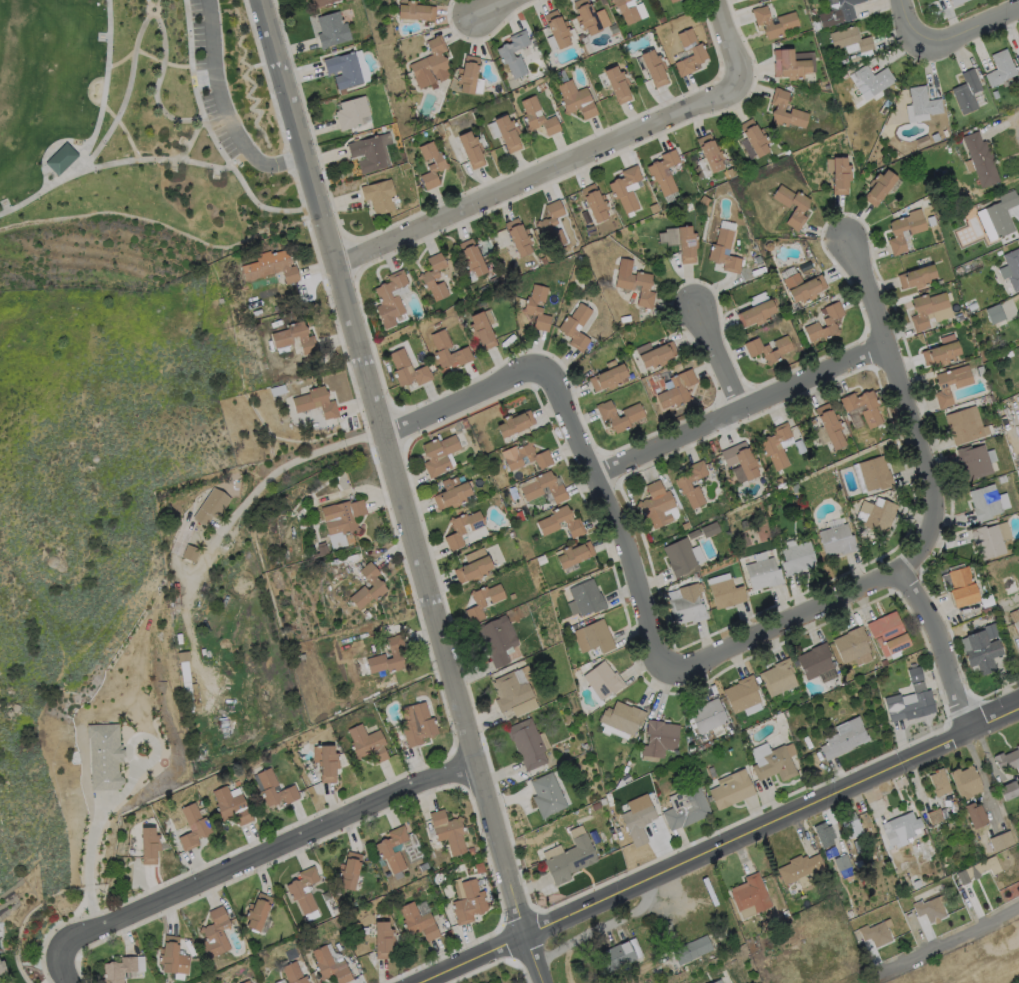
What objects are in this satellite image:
building: (669, 0)
building: (749, 0)
building: (936, 0)
building: (939, 0)
building: (957, 2)
building: (320, 3)
road: (495, 6)
road: (151, 9)
building: (626, 11)
building: (416, 12)
building: (813, 12)
building: (840, 12)
road: (155, 17)
building: (586, 17)
building: (787, 21)
road: (908, 23)
building: (816, 24)
road: (971, 28)
building: (332, 30)
building: (558, 30)
building: (628, 36)
road: (732, 40)
building: (850, 40)
building: (689, 53)
building: (505, 54)
building: (1018, 60)
building: (431, 65)
building: (789, 65)
building: (654, 68)
building: (1001, 69)
building: (344, 71)
building: (468, 74)
building: (833, 74)
parking lot: (207, 79)
building: (875, 80)
building: (618, 85)
building: (542, 87)
building: (967, 92)
building: (599, 95)
building: (995, 95)
building: (576, 100)
building: (923, 102)
building: (887, 104)
road: (223, 108)
building: (779, 109)
building: (883, 109)
building: (352, 113)
building: (538, 118)
building: (445, 125)
road: (93, 131)
road: (207, 131)
building: (508, 133)
building: (922, 137)
building: (755, 138)
building: (471, 150)
park: (116, 151)
building: (710, 153)
building: (367, 154)
building: (61, 158)
road: (156, 159)
building: (981, 160)
building: (431, 165)
building: (664, 172)
road: (540, 175)
building: (841, 176)
building: (879, 188)
building: (617, 189)
building: (642, 190)
building: (379, 196)
building: (704, 201)
building: (595, 203)
building: (689, 205)
building: (800, 209)
building: (1002, 214)
building: (931, 221)
building: (552, 225)
building: (666, 236)
building: (519, 237)
building: (898, 237)
building: (687, 245)
building: (769, 246)
building: (716, 252)
building: (472, 258)
building: (271, 267)
building: (1011, 269)
building: (435, 278)
building: (917, 278)
building: (940, 282)
building: (635, 283)
building: (804, 288)
building: (1018, 297)
building: (390, 300)
building: (972, 307)
building: (537, 308)
building: (926, 310)
building: (757, 314)
building: (995, 314)
building: (644, 316)
building: (826, 323)
building: (437, 326)
building: (566, 328)
building: (482, 332)
building: (282, 341)
building: (442, 348)
building: (768, 350)
building: (941, 354)
building: (1010, 354)
building: (658, 355)
road: (720, 358)
building: (408, 370)
building: (980, 371)
building: (656, 378)
building: (608, 379)
building: (943, 388)
building: (677, 390)
road: (463, 400)
building: (982, 400)
building: (303, 406)
road: (910, 408)
road: (741, 409)
building: (870, 411)
building: (631, 418)
building: (812, 423)
building: (465, 424)
building: (516, 424)
building: (830, 426)
building: (965, 426)
building: (776, 446)
building: (439, 455)
building: (539, 457)
building: (741, 460)
building: (974, 462)
building: (1018, 462)
road: (279, 467)
building: (875, 474)
building: (1002, 479)
building: (778, 482)
building: (683, 484)
building: (796, 485)
building: (531, 488)
road: (400, 491)
building: (452, 494)
building: (985, 503)
building: (657, 505)
building: (212, 507)
road: (614, 514)
building: (797, 514)
building: (878, 516)
building: (343, 517)
building: (550, 522)
building: (685, 526)
building: (462, 529)
building: (710, 530)
building: (179, 532)
building: (511, 534)
building: (693, 534)
building: (990, 540)
building: (837, 541)
building: (321, 551)
building: (191, 554)
building: (575, 555)
building: (680, 557)
building: (540, 559)
building: (798, 559)
building: (473, 570)
building: (763, 574)
building: (696, 576)
building: (1009, 585)
building: (377, 586)
building: (963, 587)
building: (726, 594)
building: (176, 596)
building: (512, 597)
building: (587, 598)
building: (483, 602)
building: (687, 606)
building: (987, 610)
building: (368, 616)
building: (1015, 619)
road: (784, 623)
building: (889, 634)
building: (594, 637)
building: (498, 641)
building: (851, 645)
building: (982, 649)
road: (941, 651)
building: (395, 655)
building: (301, 657)
building: (815, 662)
building: (883, 663)
building: (576, 674)
building: (915, 675)
building: (186, 678)
building: (779, 678)
building: (604, 681)
building: (108, 691)
building: (511, 692)
building: (742, 695)
building: (910, 704)
building: (707, 716)
building: (622, 718)
building: (417, 725)
building: (660, 739)
building: (845, 739)
building: (368, 744)
building: (528, 744)
building: (105, 757)
building: (1008, 760)
building: (774, 762)
building: (327, 763)
building: (626, 779)
building: (966, 782)
building: (940, 783)
building: (269, 787)
building: (732, 791)
building: (1009, 791)
building: (547, 796)
building: (608, 798)
building: (603, 802)
building: (611, 802)
building: (596, 806)
building: (231, 807)
building: (686, 808)
building: (202, 812)
building: (976, 816)
building: (937, 817)
building: (638, 823)
building: (168, 824)
building: (851, 826)
building: (949, 826)
building: (194, 827)
building: (901, 830)
building: (449, 832)
building: (824, 835)
building: (614, 837)
building: (1001, 842)
building: (150, 846)
road: (720, 847)
building: (384, 849)
road: (264, 852)
building: (471, 852)
building: (550, 852)
building: (831, 852)
building: (571, 860)
building: (842, 864)
building: (858, 864)
road: (88, 866)
building: (976, 869)
building: (801, 870)
building: (349, 871)
building: (482, 872)
building: (916, 884)
building: (294, 890)
building: (750, 897)
building: (469, 903)
building: (930, 910)
building: (258, 912)
building: (786, 914)
building: (850, 914)
building: (419, 923)
building: (216, 933)
building: (876, 934)
road: (953, 935)
building: (384, 940)
building: (756, 945)
building: (692, 950)
building: (737, 951)
building: (291, 955)
building: (172, 957)
building: (617, 959)
building: (330, 966)
road: (64, 967)
building: (2, 968)
building: (119, 970)
building: (294, 974)
building: (718, 981)
building: (247, 982)

